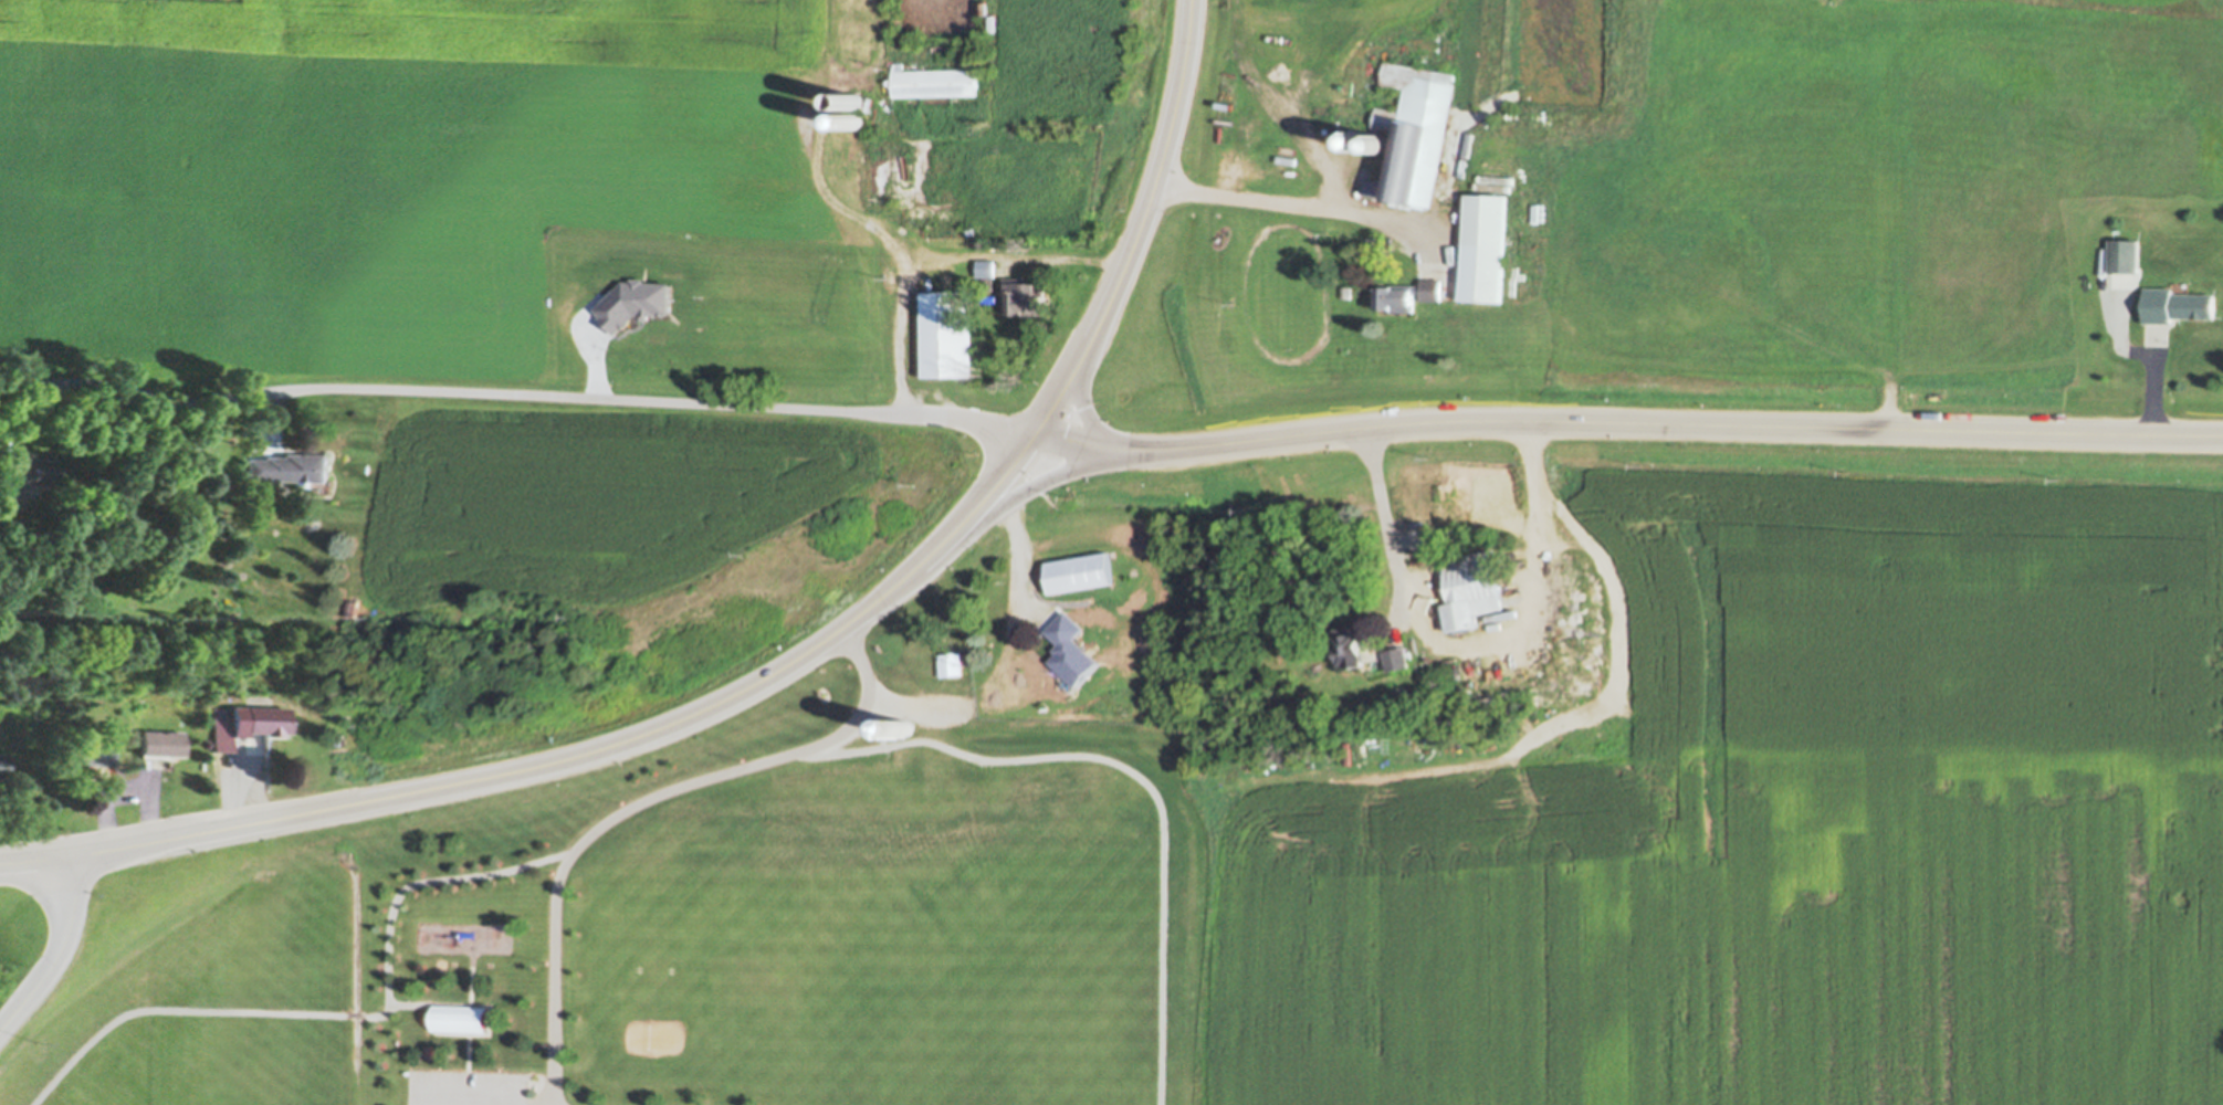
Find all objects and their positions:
building: (935, 81)
building: (853, 99)
road: (1280, 106)
building: (853, 119)
building: (1416, 131)
building: (1362, 139)
building: (1381, 144)
building: (872, 170)
road: (824, 189)
road: (1297, 201)
road: (1142, 228)
building: (937, 232)
building: (1486, 246)
road: (941, 254)
building: (2124, 255)
building: (985, 267)
building: (1031, 267)
building: (1345, 291)
building: (1408, 294)
building: (1025, 296)
building: (2177, 304)
building: (944, 335)
road: (514, 397)
road: (1089, 422)
road: (1624, 423)
building: (290, 466)
building: (28, 469)
road: (1003, 501)
building: (1078, 572)
road: (1009, 586)
building: (1470, 588)
building: (1506, 627)
road: (1476, 643)
building: (1350, 646)
building: (1398, 659)
building: (951, 663)
building: (1026, 674)
building: (271, 718)
building: (904, 726)
building: (337, 738)
building: (165, 740)
building: (94, 750)
road: (605, 750)
building: (4, 764)
road: (1132, 772)
road: (635, 802)
crop: (1791, 810)
road: (38, 862)
park: (795, 920)
road: (59, 953)
road: (468, 976)
park: (205, 985)
road: (409, 1001)
road: (339, 1012)
building: (459, 1017)
road: (465, 1069)

